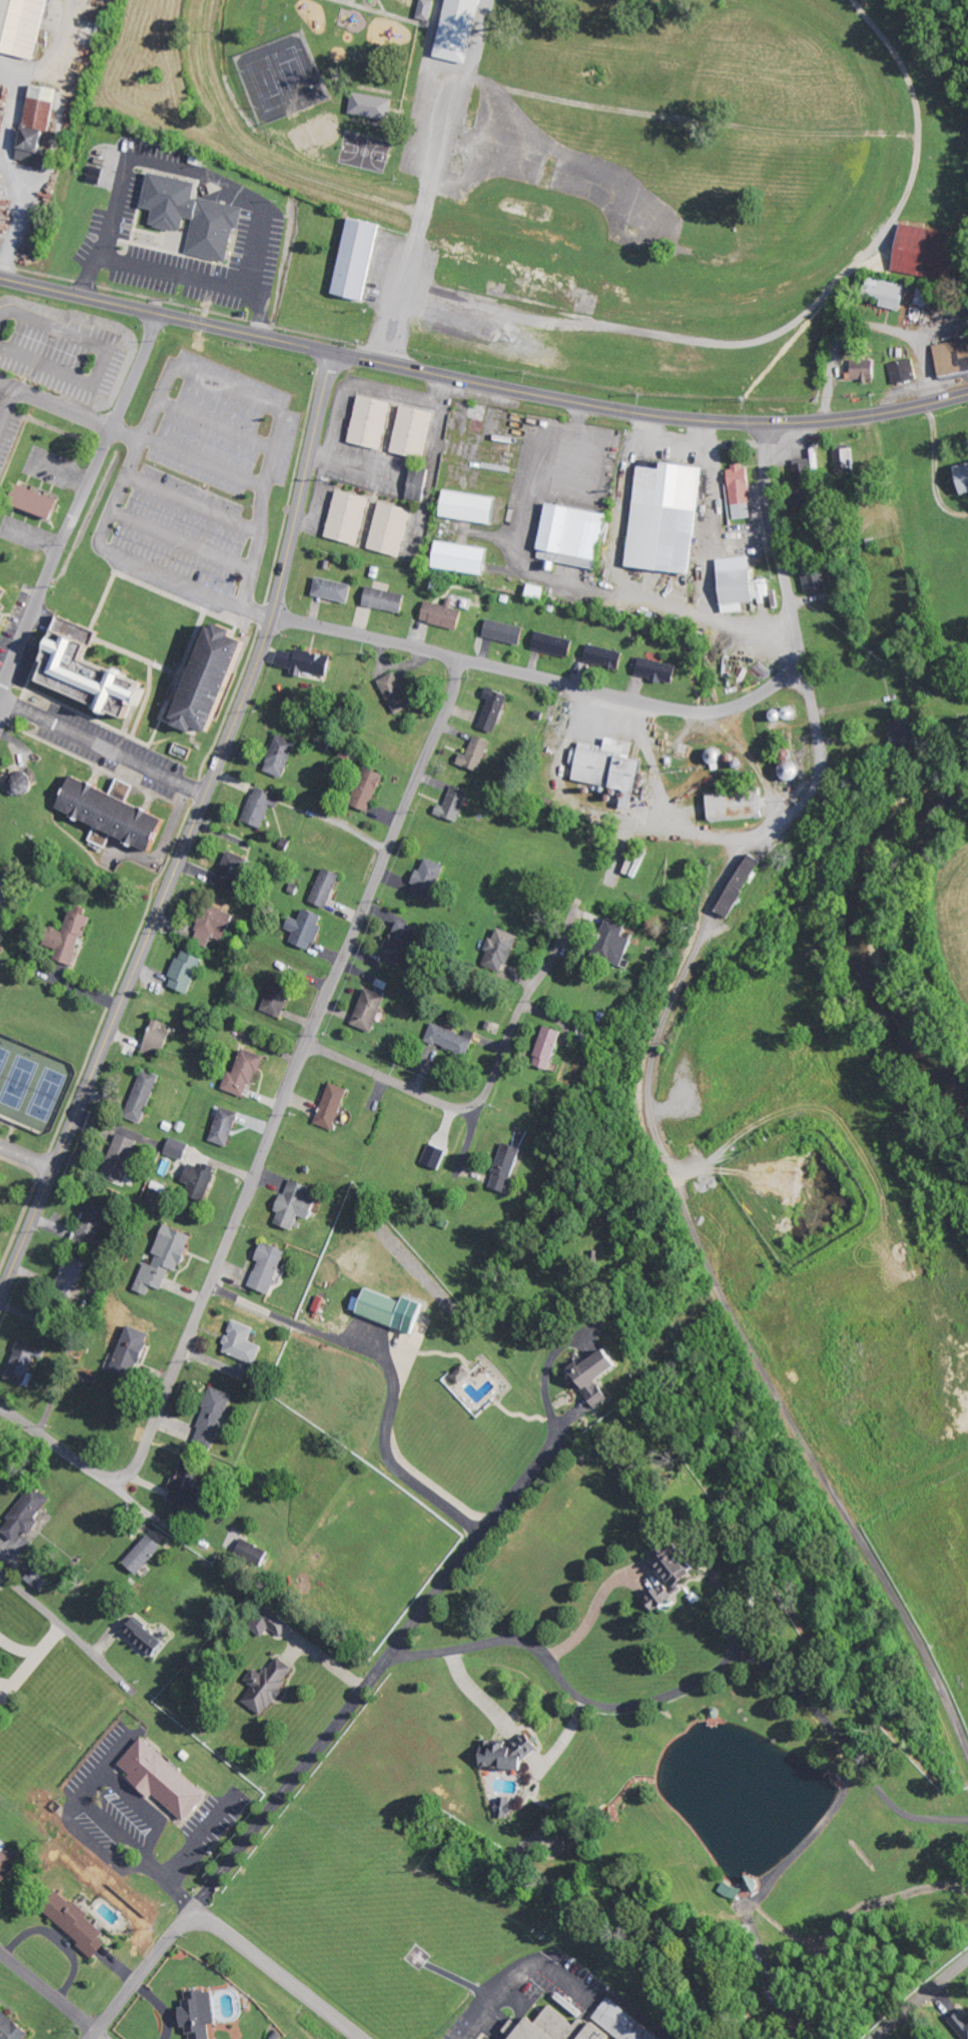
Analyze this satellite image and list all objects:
building: (422, 9)
building: (25, 26)
building: (452, 30)
building: (366, 106)
building: (40, 128)
building: (213, 229)
building: (919, 252)
building: (352, 260)
road: (626, 260)
road: (397, 284)
building: (884, 293)
road: (106, 354)
building: (950, 357)
building: (859, 370)
building: (902, 371)
road: (481, 384)
road: (13, 387)
road: (226, 387)
road: (50, 402)
building: (372, 421)
road: (215, 424)
building: (415, 431)
building: (842, 461)
building: (798, 473)
building: (958, 479)
road: (256, 484)
building: (742, 484)
road: (79, 501)
road: (192, 502)
building: (47, 504)
building: (473, 506)
building: (349, 516)
building: (670, 517)
building: (392, 528)
building: (576, 536)
road: (181, 540)
building: (465, 557)
road: (121, 558)
building: (816, 581)
building: (335, 589)
building: (742, 589)
building: (5, 591)
building: (540, 591)
building: (387, 599)
building: (444, 615)
building: (507, 631)
building: (556, 644)
building: (606, 656)
building: (307, 662)
building: (659, 670)
building: (93, 672)
building: (219, 678)
road: (541, 681)
building: (397, 693)
building: (495, 709)
building: (909, 732)
road: (103, 746)
building: (477, 754)
building: (281, 755)
building: (613, 767)
building: (24, 783)
building: (368, 788)
road: (809, 796)
building: (456, 803)
building: (731, 803)
building: (261, 805)
building: (119, 811)
road: (190, 831)
building: (100, 836)
building: (232, 871)
building: (430, 879)
building: (742, 883)
building: (326, 887)
road: (1, 893)
building: (211, 924)
building: (308, 928)
building: (74, 936)
building: (404, 942)
building: (615, 942)
building: (503, 946)
building: (187, 971)
building: (280, 996)
building: (371, 1009)
road: (520, 1009)
building: (160, 1038)
building: (452, 1040)
building: (551, 1047)
building: (246, 1072)
road: (392, 1081)
building: (145, 1095)
road: (286, 1098)
building: (333, 1106)
building: (227, 1126)
road: (468, 1143)
building: (178, 1148)
road: (25, 1156)
building: (436, 1156)
building: (122, 1157)
building: (508, 1167)
building: (201, 1177)
building: (299, 1203)
building: (93, 1224)
building: (167, 1258)
building: (271, 1267)
building: (75, 1271)
building: (396, 1310)
building: (245, 1342)
building: (133, 1352)
building: (25, 1361)
building: (463, 1374)
building: (599, 1374)
building: (216, 1417)
road: (36, 1432)
building: (194, 1490)
building: (28, 1515)
building: (146, 1554)
building: (678, 1566)
building: (39, 1580)
building: (661, 1598)
building: (271, 1623)
road: (65, 1627)
building: (148, 1636)
road: (925, 1655)
road: (379, 1670)
building: (1, 1678)
building: (269, 1686)
building: (168, 1780)
building: (504, 1809)
building: (7, 1863)
building: (81, 1926)
helipad: (414, 1956)
road: (275, 1974)
road: (145, 1975)
road: (50, 1996)
road: (921, 1999)
building: (202, 2014)
building: (616, 2022)
building: (958, 2023)
building: (13, 2027)
building: (542, 2029)

